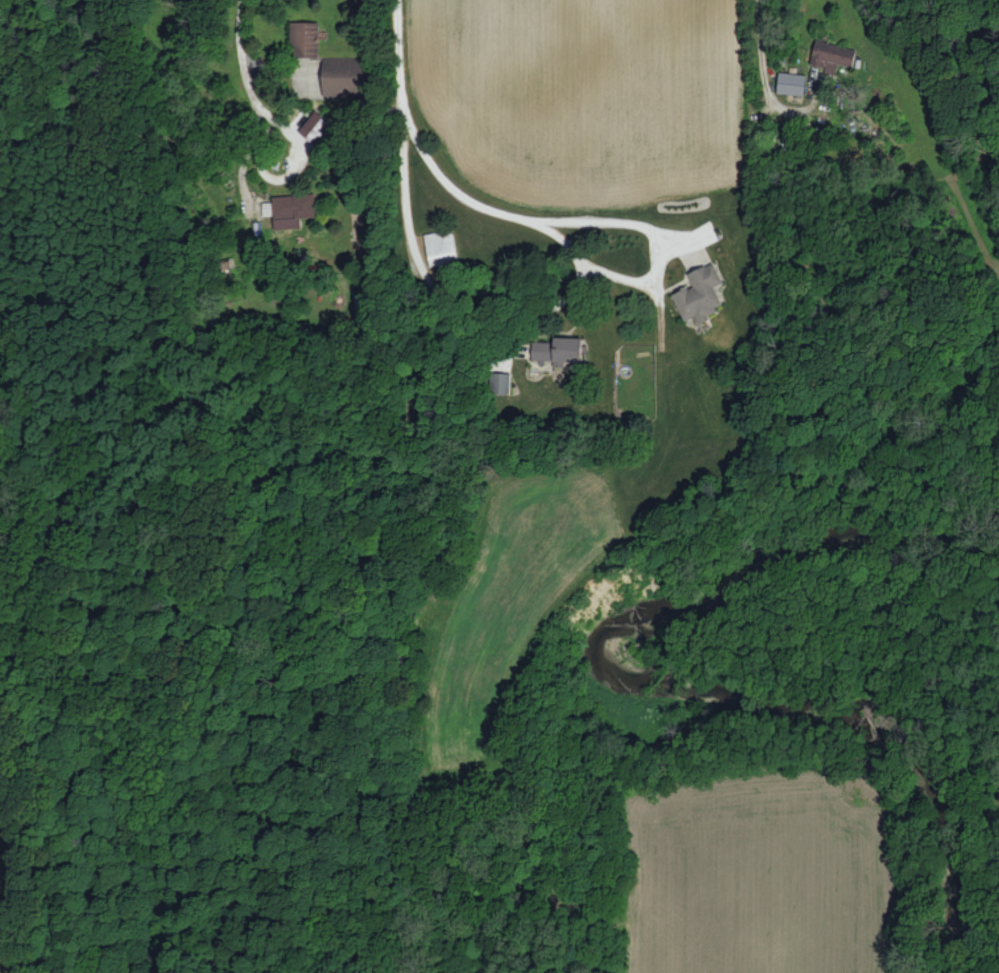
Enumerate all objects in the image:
building: (305, 38)
building: (831, 55)
road: (762, 65)
building: (343, 76)
road: (246, 79)
building: (792, 83)
building: (315, 126)
road: (463, 197)
road: (406, 204)
building: (293, 209)
building: (441, 247)
building: (700, 294)
building: (559, 350)
river: (645, 684)

